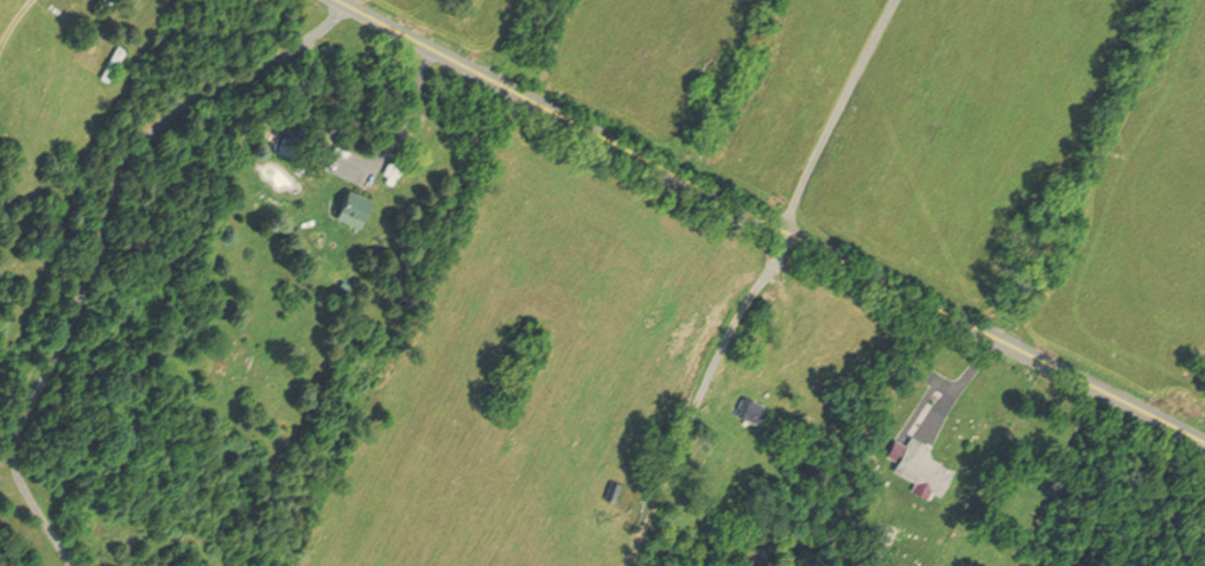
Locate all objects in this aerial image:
road: (413, 113)
road: (846, 116)
road: (772, 223)
road: (964, 386)

